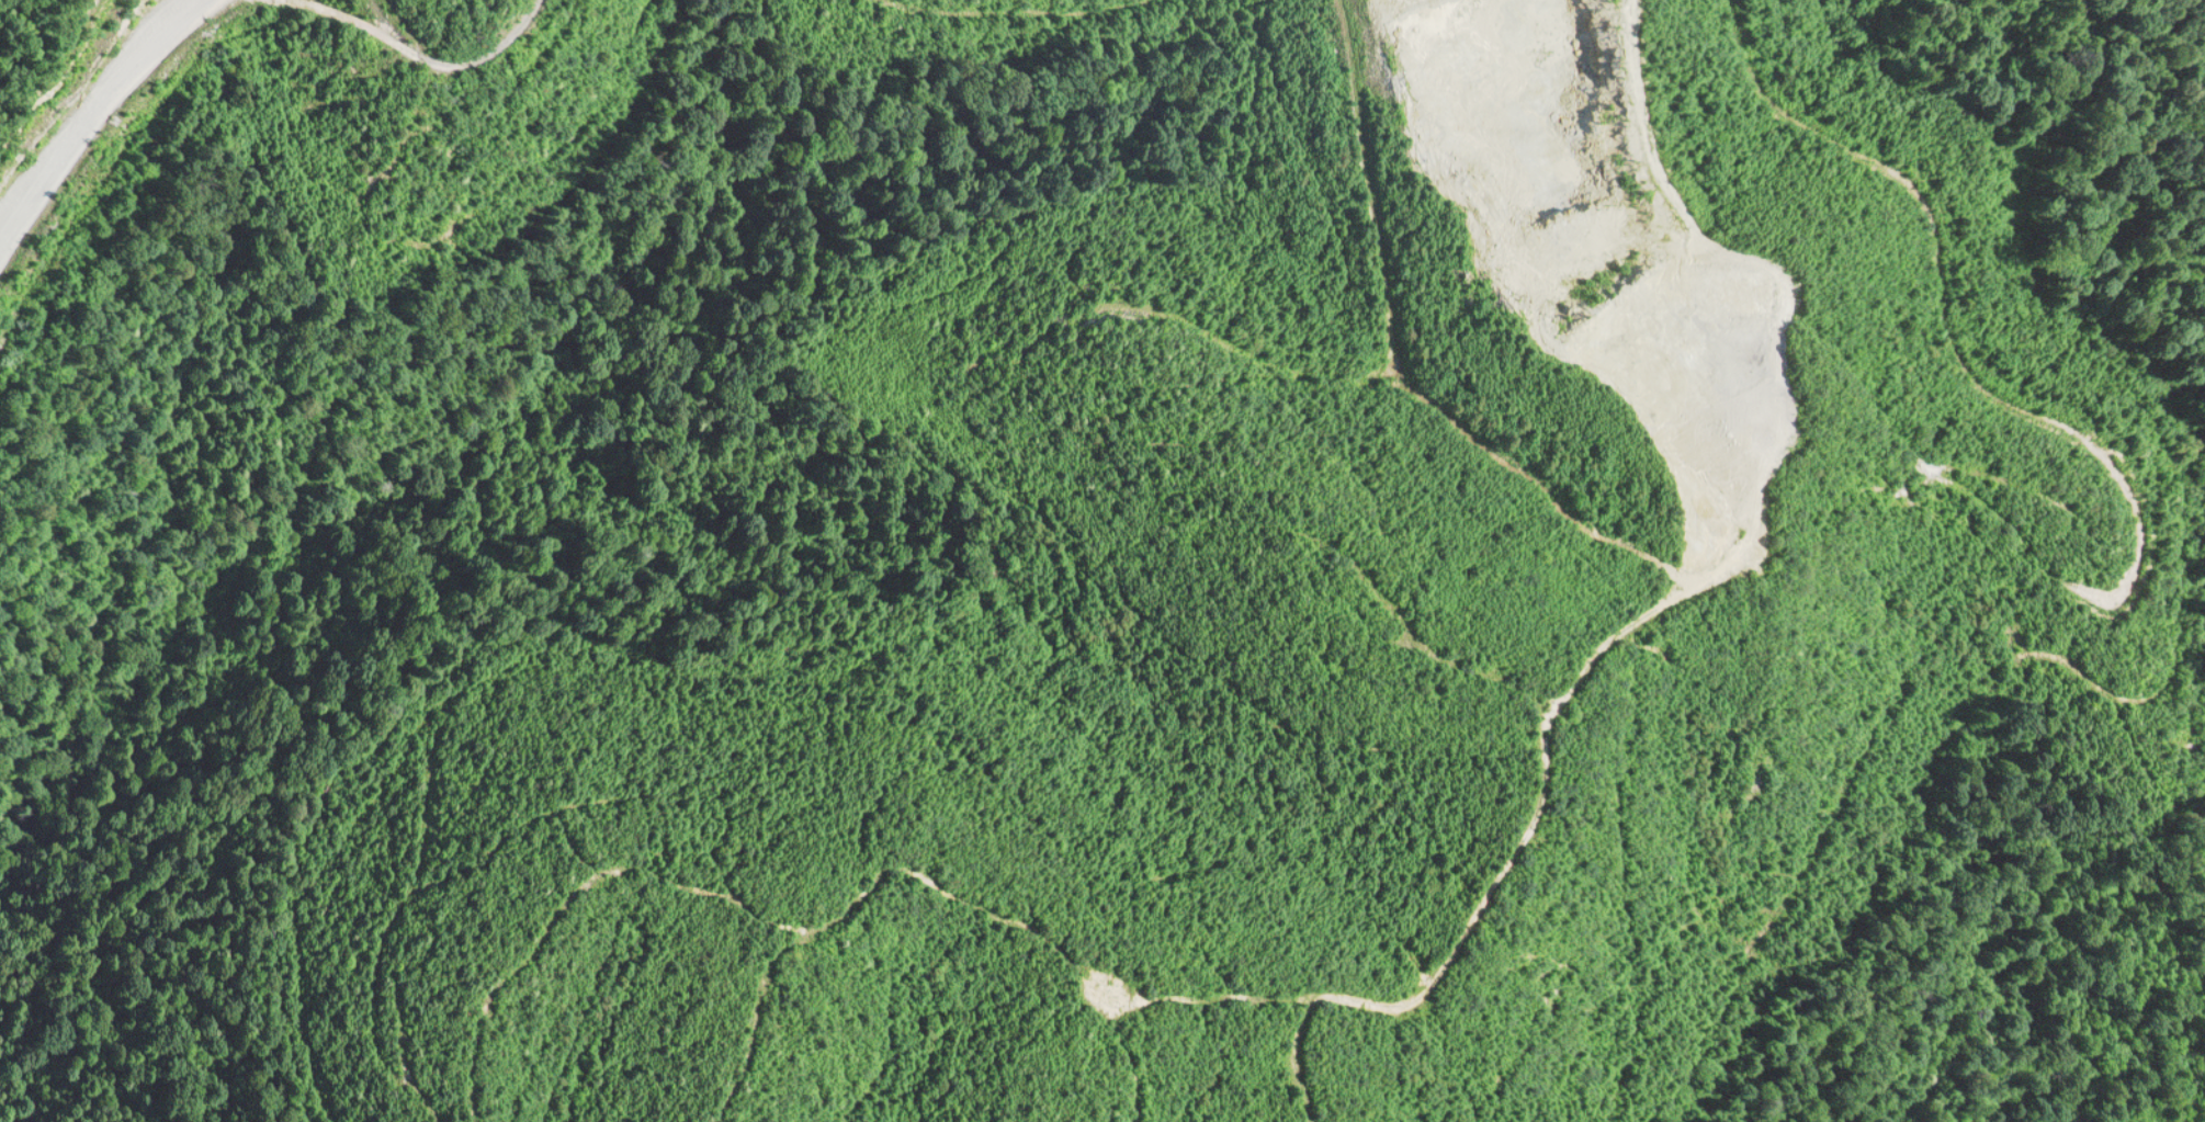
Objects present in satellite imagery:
quarry: (1102, 560)

